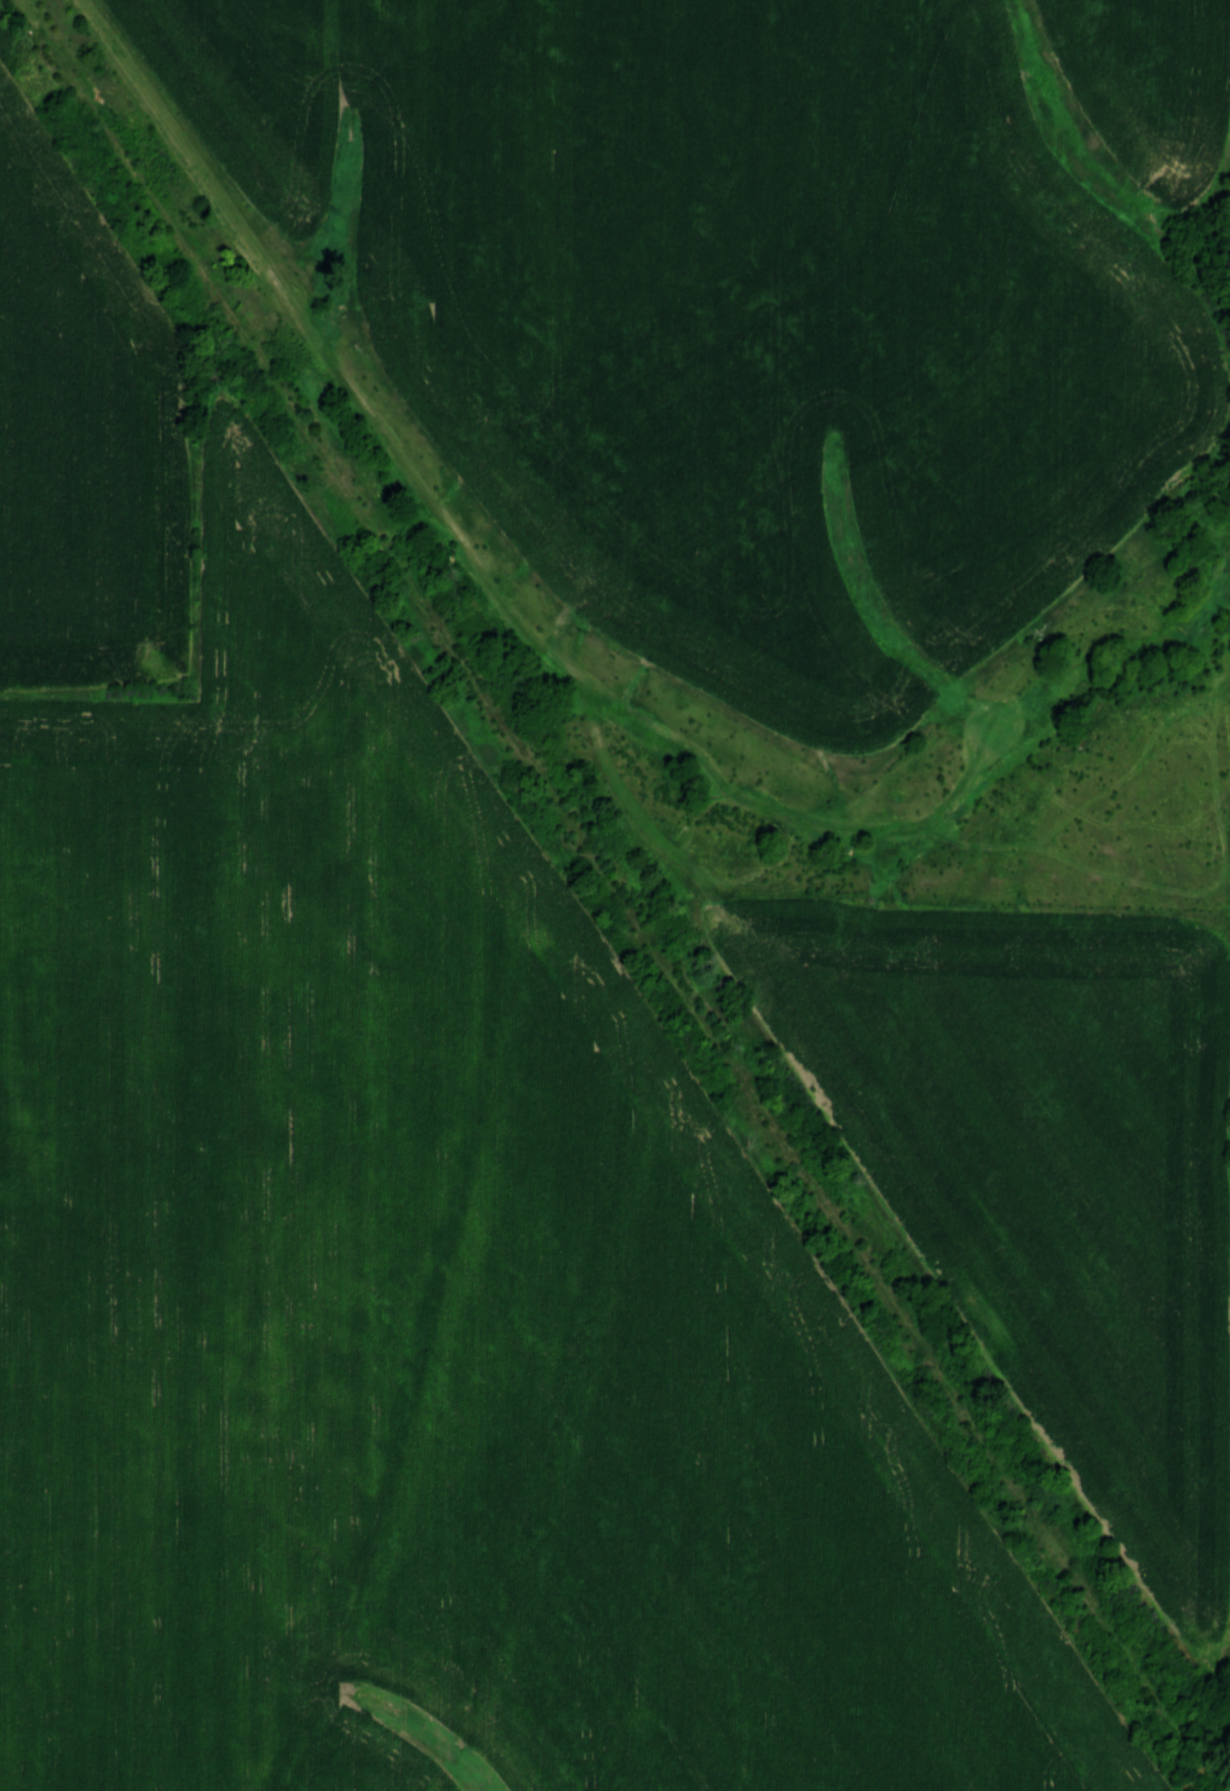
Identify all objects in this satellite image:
crop: (1048, 1164)

